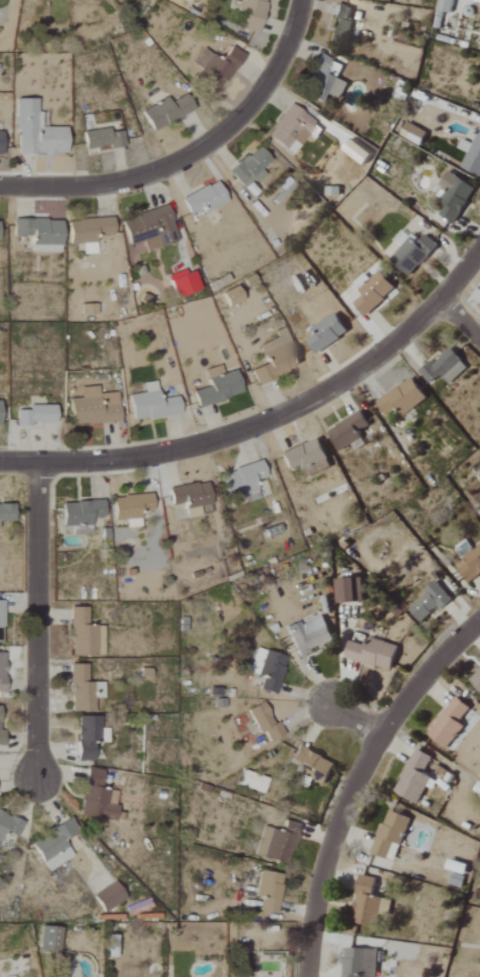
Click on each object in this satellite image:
building: (447, 7)
building: (254, 12)
building: (343, 25)
building: (218, 68)
building: (327, 80)
building: (440, 109)
building: (169, 112)
building: (292, 127)
building: (38, 133)
building: (414, 133)
building: (105, 140)
building: (2, 144)
building: (360, 151)
road: (191, 155)
building: (472, 155)
building: (252, 167)
building: (456, 197)
building: (206, 199)
building: (0, 230)
building: (151, 230)
building: (91, 232)
building: (42, 233)
building: (415, 254)
building: (185, 283)
building: (374, 291)
building: (234, 296)
building: (90, 309)
road: (461, 323)
building: (329, 333)
building: (278, 358)
building: (447, 367)
building: (220, 387)
building: (404, 398)
building: (153, 404)
building: (96, 408)
building: (1, 413)
building: (38, 416)
road: (268, 418)
building: (350, 431)
building: (309, 458)
building: (245, 480)
building: (193, 497)
building: (133, 508)
building: (83, 512)
building: (7, 513)
building: (471, 565)
building: (351, 591)
building: (431, 601)
road: (33, 620)
building: (2, 621)
building: (83, 634)
building: (311, 636)
building: (375, 654)
building: (269, 669)
building: (3, 672)
building: (476, 679)
building: (82, 689)
road: (355, 716)
building: (266, 721)
building: (451, 723)
building: (2, 732)
building: (90, 736)
building: (315, 764)
building: (416, 777)
road: (353, 778)
building: (254, 782)
building: (98, 798)
building: (10, 825)
building: (392, 835)
building: (279, 843)
building: (57, 845)
building: (271, 891)
building: (111, 897)
building: (367, 903)
building: (51, 940)
building: (361, 963)

